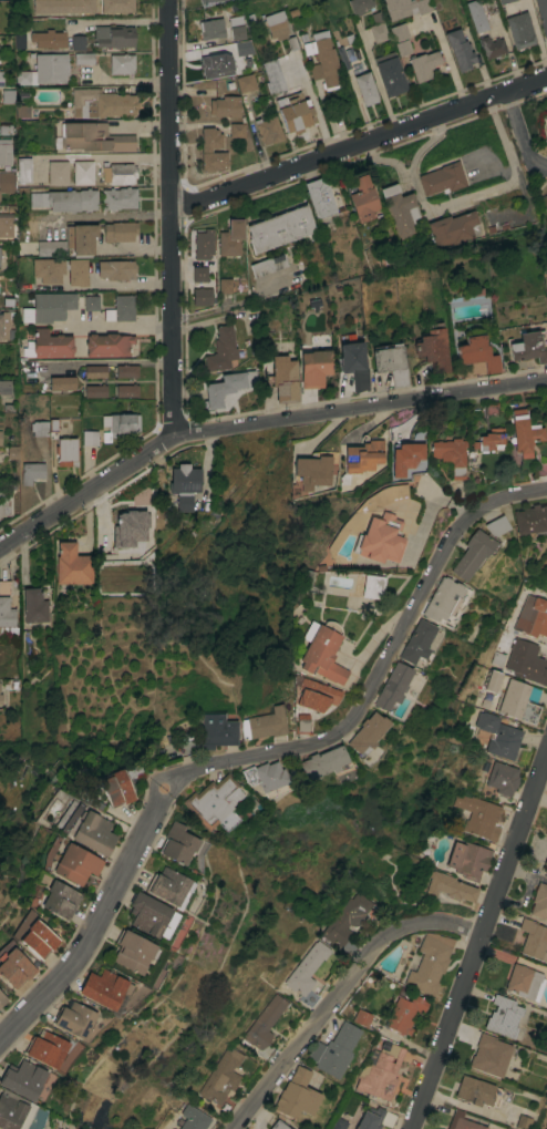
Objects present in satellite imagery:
building: (207, 1)
building: (503, 1)
building: (455, 4)
building: (63, 6)
building: (116, 6)
building: (360, 6)
building: (489, 6)
building: (404, 7)
building: (475, 14)
building: (541, 14)
road: (118, 21)
building: (275, 24)
building: (376, 28)
building: (211, 29)
building: (519, 30)
building: (237, 32)
building: (113, 35)
building: (48, 39)
building: (400, 39)
building: (78, 42)
building: (491, 47)
building: (242, 48)
building: (460, 50)
road: (445, 54)
building: (83, 58)
building: (324, 61)
building: (121, 63)
building: (423, 64)
building: (219, 65)
building: (51, 68)
building: (389, 74)
building: (272, 76)
building: (22, 78)
building: (0, 79)
road: (130, 80)
building: (245, 83)
building: (364, 88)
building: (101, 103)
building: (225, 105)
building: (22, 111)
building: (295, 112)
building: (546, 125)
building: (237, 130)
building: (267, 130)
building: (93, 137)
road: (518, 137)
road: (358, 144)
building: (205, 150)
building: (4, 152)
road: (93, 155)
building: (23, 170)
building: (83, 172)
building: (58, 173)
building: (117, 173)
building: (442, 178)
building: (6, 182)
building: (319, 197)
building: (118, 198)
building: (362, 198)
building: (65, 199)
building: (399, 211)
road: (169, 218)
building: (6, 225)
building: (453, 227)
building: (279, 228)
building: (118, 230)
building: (230, 237)
building: (80, 239)
building: (51, 247)
building: (202, 254)
building: (268, 265)
building: (49, 269)
building: (115, 269)
building: (76, 271)
building: (225, 285)
building: (203, 296)
building: (546, 297)
building: (90, 302)
road: (229, 302)
building: (51, 306)
building: (120, 309)
building: (4, 325)
road: (114, 327)
building: (50, 345)
building: (107, 345)
building: (529, 346)
building: (433, 347)
building: (221, 349)
building: (477, 353)
building: (354, 363)
building: (392, 363)
building: (314, 367)
building: (95, 370)
building: (126, 370)
building: (282, 378)
building: (61, 383)
building: (4, 387)
building: (227, 387)
building: (95, 390)
building: (126, 390)
building: (491, 408)
road: (258, 423)
building: (118, 424)
building: (38, 428)
building: (524, 432)
building: (0, 437)
building: (90, 438)
building: (489, 440)
building: (12, 452)
building: (65, 452)
building: (451, 454)
building: (363, 455)
building: (405, 458)
building: (31, 472)
building: (311, 472)
building: (184, 485)
building: (530, 519)
building: (133, 524)
building: (380, 538)
building: (478, 547)
building: (72, 565)
building: (372, 586)
road: (417, 586)
building: (443, 599)
building: (33, 606)
building: (6, 608)
building: (533, 616)
building: (416, 643)
building: (321, 650)
building: (527, 661)
building: (493, 680)
building: (392, 687)
building: (314, 694)
building: (0, 700)
building: (517, 702)
building: (264, 723)
building: (301, 723)
building: (217, 732)
building: (367, 733)
building: (497, 735)
road: (245, 757)
building: (322, 761)
building: (503, 778)
building: (267, 779)
building: (116, 788)
building: (213, 800)
building: (251, 807)
building: (478, 814)
building: (93, 832)
building: (177, 843)
building: (468, 859)
building: (76, 864)
building: (545, 865)
building: (168, 885)
building: (448, 887)
building: (60, 900)
building: (539, 902)
building: (148, 913)
road: (93, 914)
building: (345, 923)
building: (39, 938)
building: (534, 938)
road: (478, 940)
building: (133, 951)
building: (430, 962)
building: (14, 968)
building: (307, 973)
building: (523, 981)
building: (104, 988)
road: (340, 993)
building: (2, 998)
building: (404, 1013)
building: (503, 1016)
building: (361, 1017)
building: (74, 1019)
building: (265, 1023)
building: (47, 1048)
building: (333, 1049)
building: (489, 1055)
building: (380, 1071)
building: (23, 1078)
building: (223, 1079)
building: (477, 1091)
building: (296, 1095)
building: (14, 1111)
building: (193, 1118)
building: (374, 1118)
building: (462, 1121)
building: (522, 1121)
building: (338, 1123)
building: (277, 1126)
building: (505, 1128)
building: (506, 1128)

